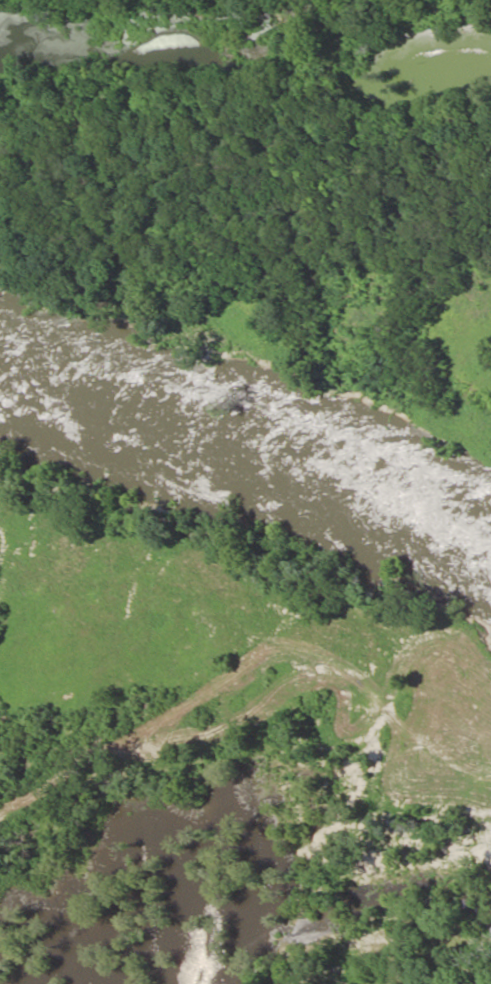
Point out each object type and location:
river: (253, 438)

